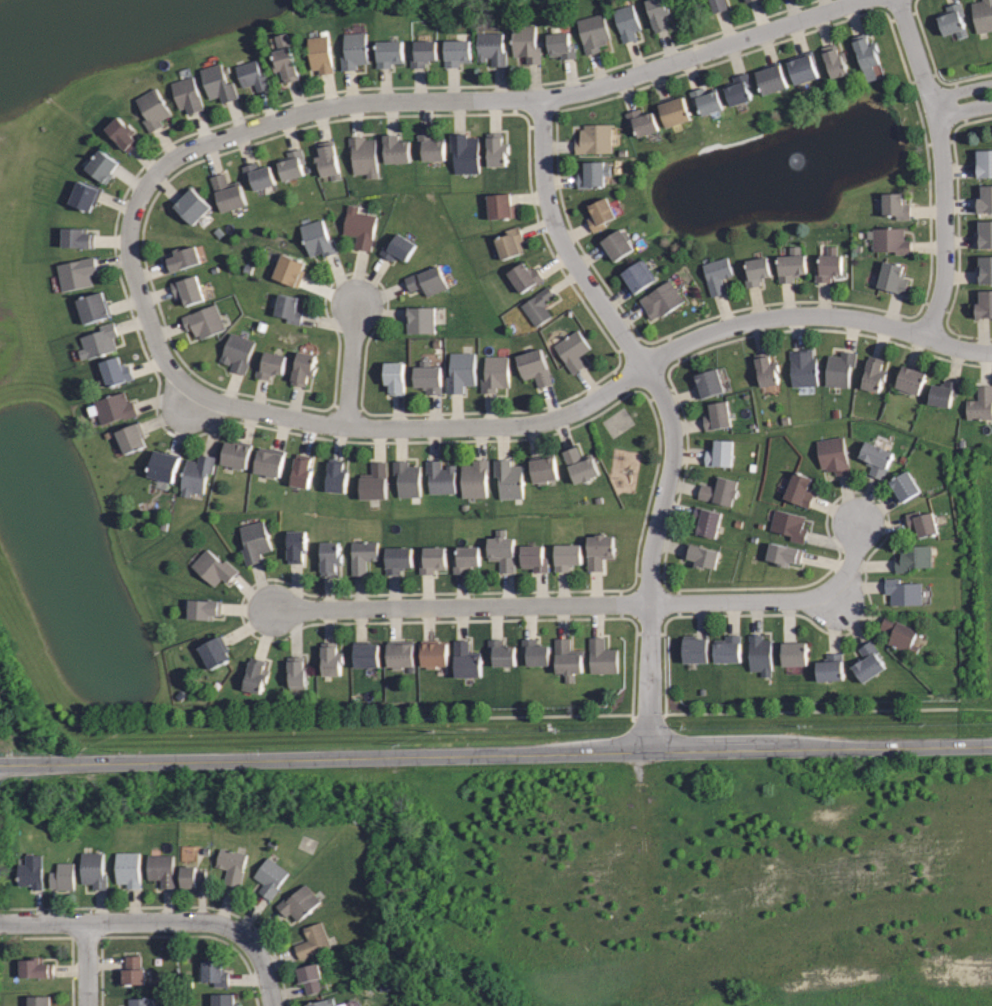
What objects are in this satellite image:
building: (744, 0)
building: (753, 0)
building: (718, 5)
building: (659, 13)
building: (982, 15)
building: (950, 20)
building: (626, 22)
building: (594, 31)
building: (526, 42)
building: (561, 44)
building: (491, 47)
building: (355, 50)
building: (389, 52)
building: (423, 52)
building: (455, 52)
building: (321, 53)
building: (865, 53)
building: (285, 58)
building: (834, 61)
building: (801, 67)
building: (252, 75)
building: (771, 78)
building: (219, 82)
building: (736, 89)
building: (189, 94)
road: (449, 99)
building: (705, 100)
road: (962, 102)
building: (154, 108)
building: (674, 110)
building: (641, 121)
building: (123, 133)
building: (592, 139)
building: (431, 147)
building: (396, 149)
building: (496, 149)
building: (465, 152)
building: (364, 155)
building: (327, 159)
building: (984, 163)
building: (292, 164)
building: (103, 165)
road: (942, 166)
building: (259, 175)
building: (591, 175)
building: (227, 192)
building: (86, 195)
building: (984, 198)
building: (194, 205)
building: (500, 206)
building: (896, 206)
building: (599, 215)
building: (361, 227)
building: (985, 233)
building: (77, 237)
building: (319, 238)
building: (889, 240)
building: (510, 242)
building: (617, 244)
building: (399, 247)
building: (181, 258)
building: (830, 264)
building: (792, 265)
building: (290, 269)
building: (984, 269)
building: (756, 271)
building: (77, 273)
building: (716, 274)
building: (638, 275)
building: (525, 276)
building: (891, 278)
building: (428, 280)
building: (188, 289)
building: (659, 300)
building: (983, 304)
building: (537, 306)
building: (94, 307)
building: (290, 308)
building: (422, 319)
building: (205, 320)
building: (100, 341)
building: (571, 350)
building: (238, 353)
building: (271, 365)
road: (350, 365)
building: (534, 366)
building: (804, 367)
building: (304, 368)
building: (766, 369)
building: (840, 369)
building: (116, 371)
building: (461, 371)
building: (495, 373)
building: (874, 374)
building: (395, 377)
building: (428, 377)
building: (910, 380)
building: (709, 383)
building: (942, 393)
building: (980, 405)
building: (113, 408)
road: (667, 409)
building: (715, 416)
road: (542, 420)
building: (131, 438)
building: (237, 454)
building: (718, 454)
building: (832, 455)
building: (875, 458)
building: (270, 462)
building: (579, 465)
building: (164, 466)
building: (543, 469)
building: (301, 470)
building: (197, 474)
building: (336, 476)
building: (440, 477)
building: (407, 478)
building: (475, 479)
building: (509, 479)
building: (374, 482)
building: (903, 487)
building: (798, 490)
building: (719, 491)
building: (705, 520)
building: (920, 523)
building: (788, 526)
building: (255, 542)
building: (296, 546)
building: (502, 551)
building: (599, 551)
building: (784, 553)
building: (363, 555)
building: (701, 555)
building: (567, 557)
building: (329, 558)
building: (533, 558)
building: (911, 558)
building: (467, 559)
building: (399, 560)
building: (433, 560)
building: (214, 568)
building: (902, 592)
road: (777, 601)
road: (459, 605)
building: (204, 609)
building: (899, 636)
building: (694, 648)
building: (727, 649)
building: (214, 652)
building: (535, 652)
building: (433, 653)
building: (501, 653)
building: (794, 653)
building: (399, 654)
building: (367, 655)
building: (760, 655)
building: (601, 656)
building: (567, 658)
building: (331, 659)
building: (466, 661)
building: (866, 661)
building: (828, 668)
building: (297, 673)
building: (256, 675)
road: (495, 754)
building: (232, 867)
building: (127, 868)
building: (162, 869)
building: (95, 870)
building: (31, 871)
building: (63, 877)
building: (193, 878)
building: (271, 879)
building: (299, 905)
road: (136, 923)
building: (314, 943)
road: (88, 965)
building: (35, 968)
building: (132, 972)
building: (215, 973)
road: (269, 978)
building: (310, 978)
building: (40, 1000)
building: (224, 1000)
building: (141, 1002)
building: (324, 1002)
building: (343, 1005)

